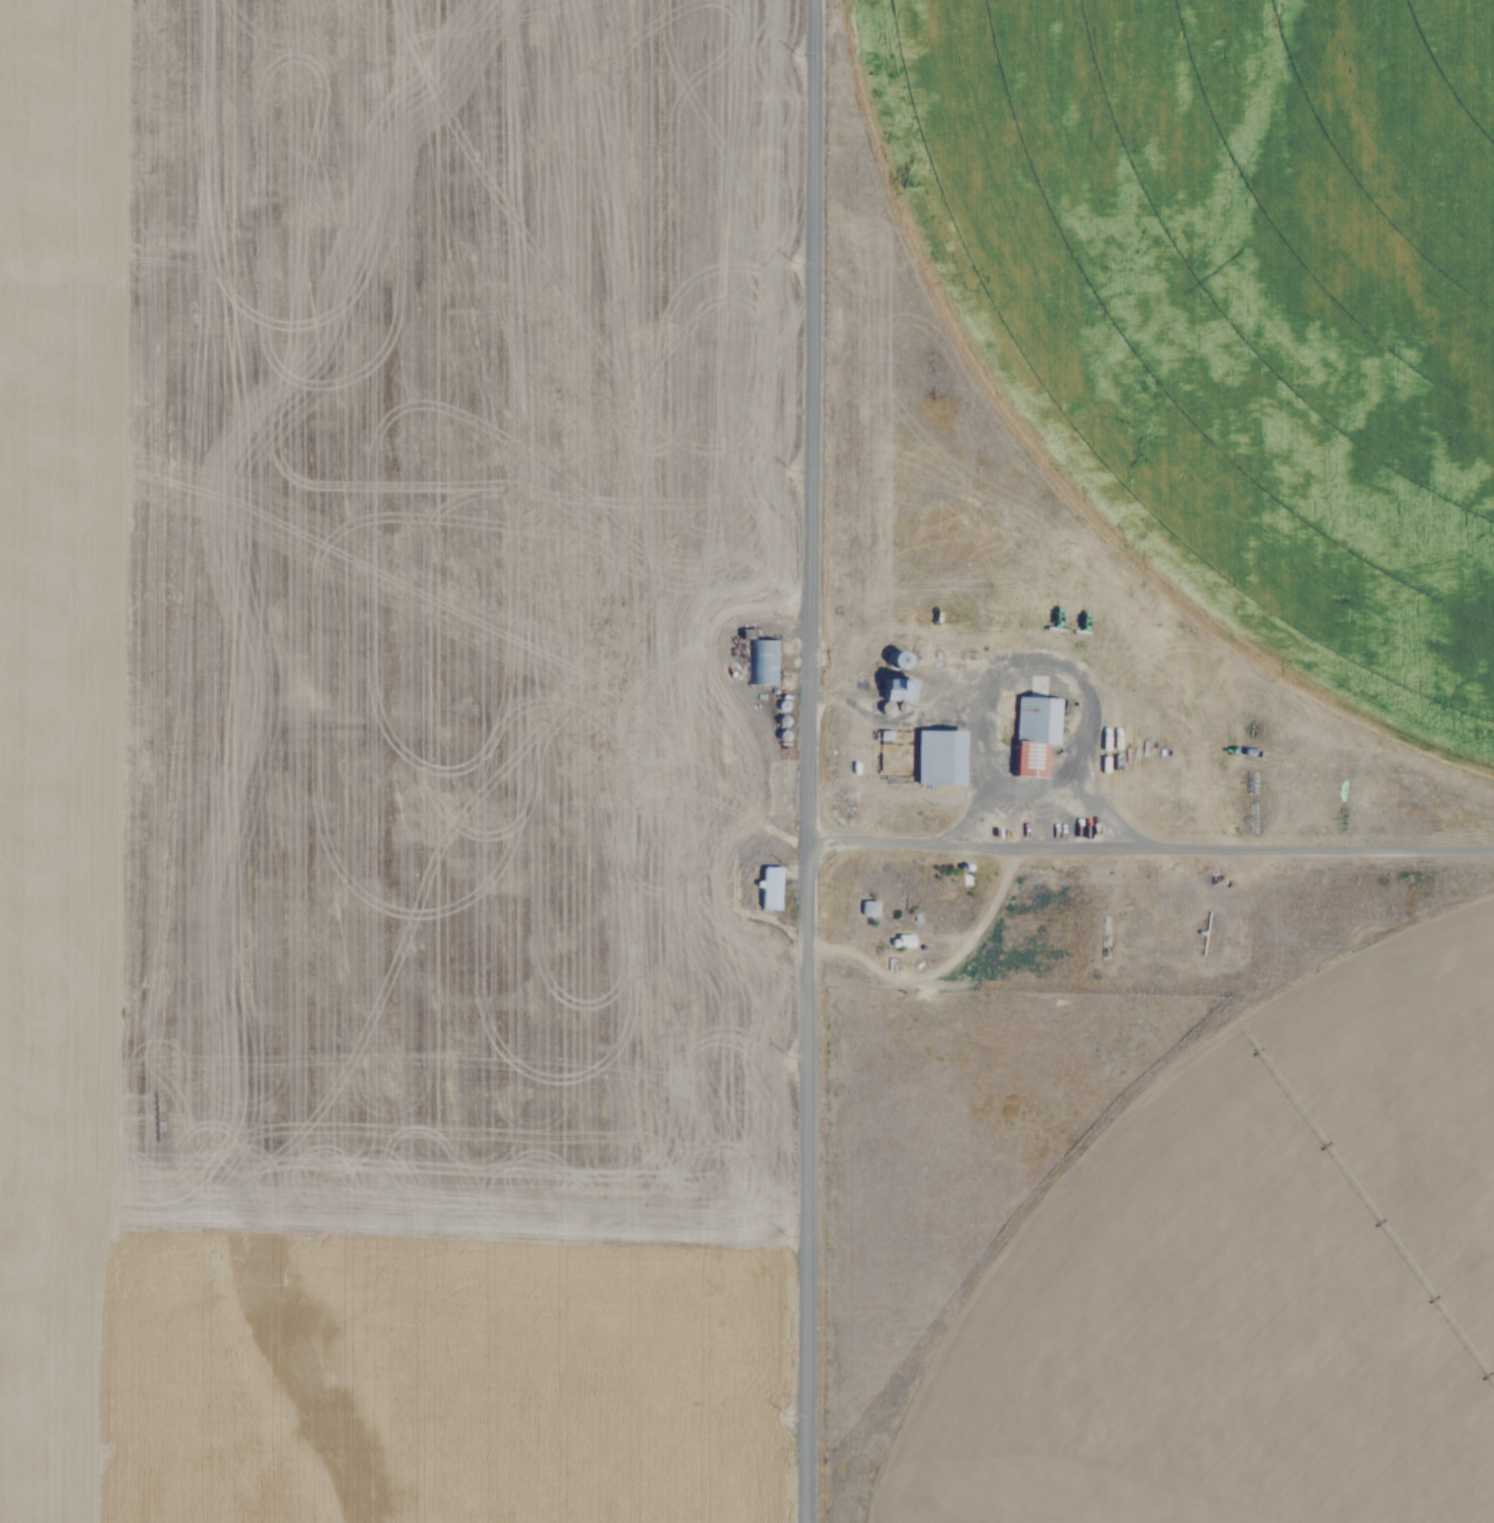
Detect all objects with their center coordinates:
building: (942, 755)
road: (811, 761)
building: (772, 886)
building: (870, 907)
building: (905, 939)

